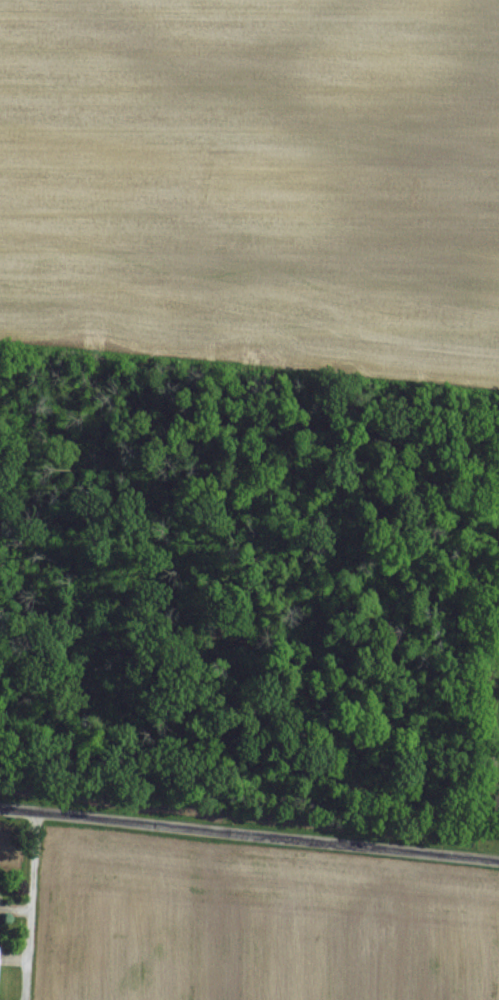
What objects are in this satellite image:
road: (249, 832)
road: (28, 904)

